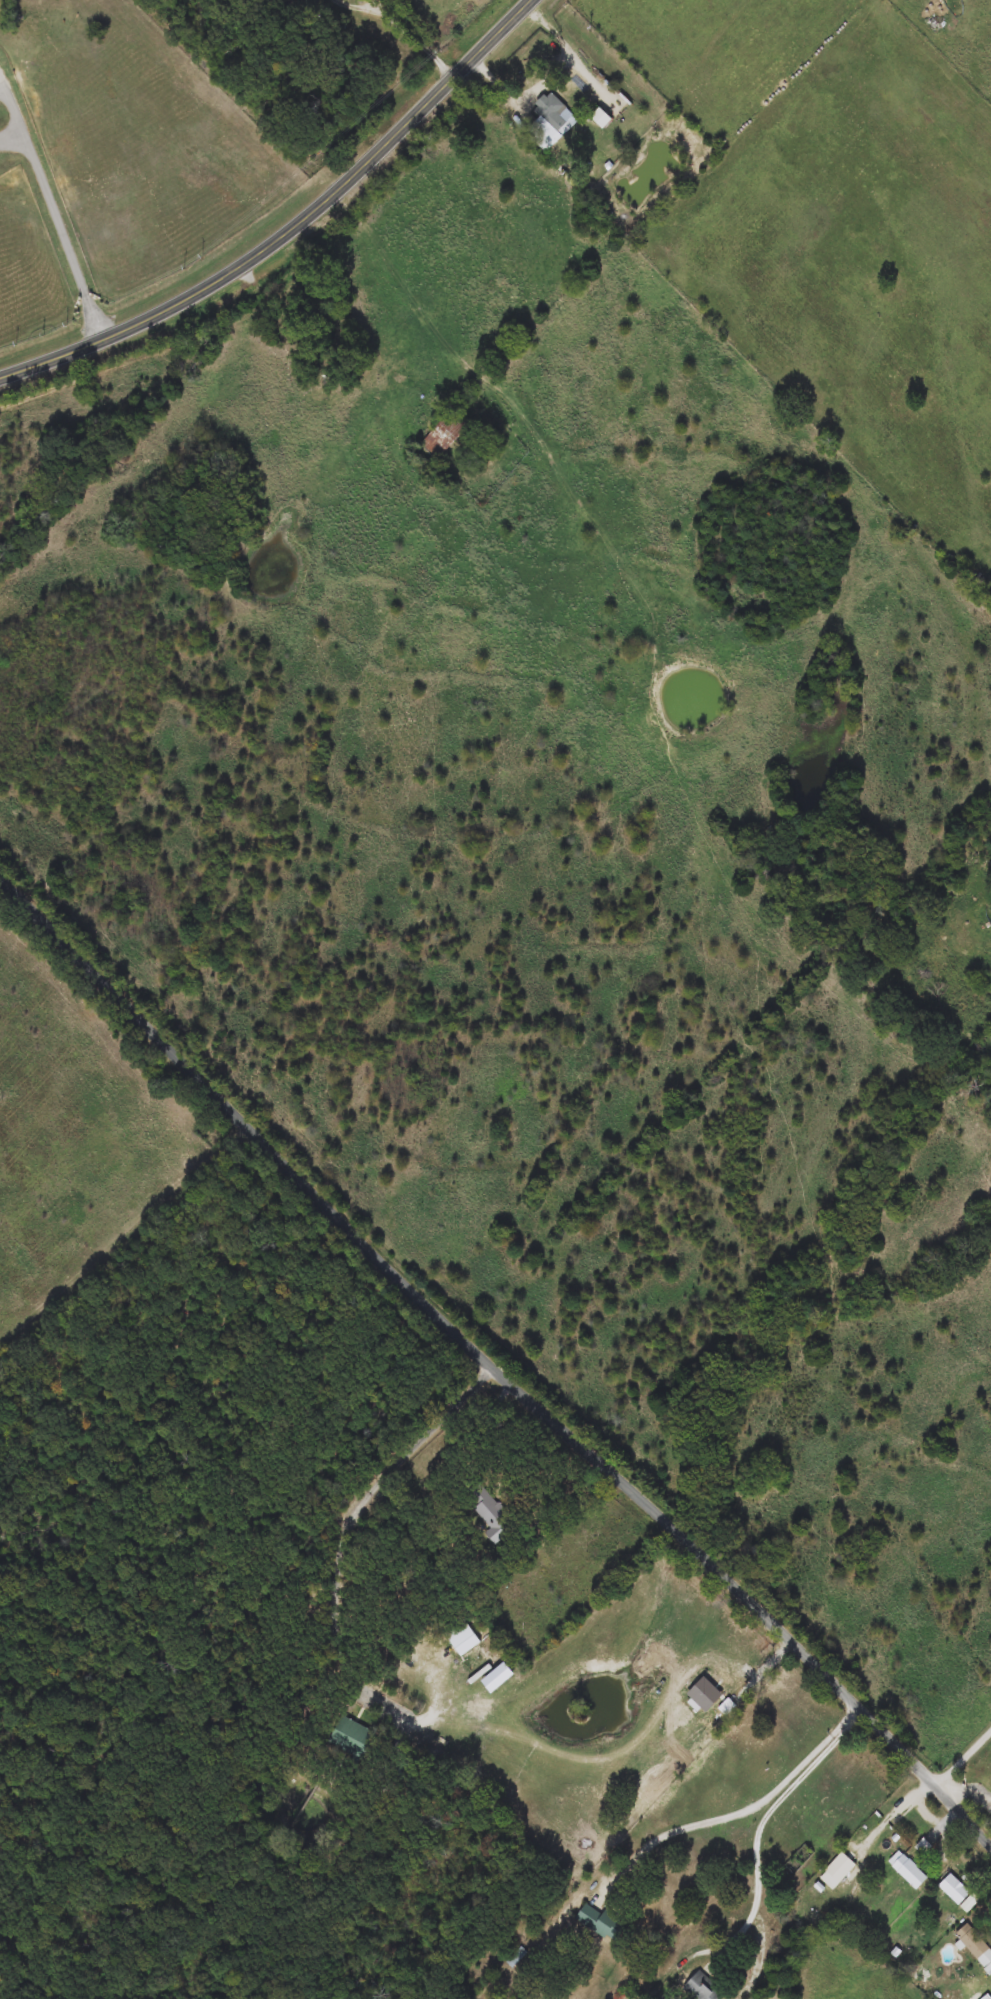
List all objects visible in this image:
road: (363, 3)
road: (421, 37)
road: (505, 84)
building: (552, 114)
road: (64, 227)
road: (297, 229)
road: (394, 268)
road: (281, 298)
building: (445, 435)
road: (990, 848)
road: (491, 1363)
building: (491, 1514)
road: (351, 1518)
building: (459, 1636)
road: (749, 1674)
building: (351, 1738)
road: (963, 1755)
road: (968, 1786)
road: (739, 1807)
road: (760, 1869)
building: (908, 1871)
building: (837, 1872)
building: (955, 1890)
building: (600, 1923)
building: (976, 1947)
building: (703, 1987)
building: (974, 1990)

